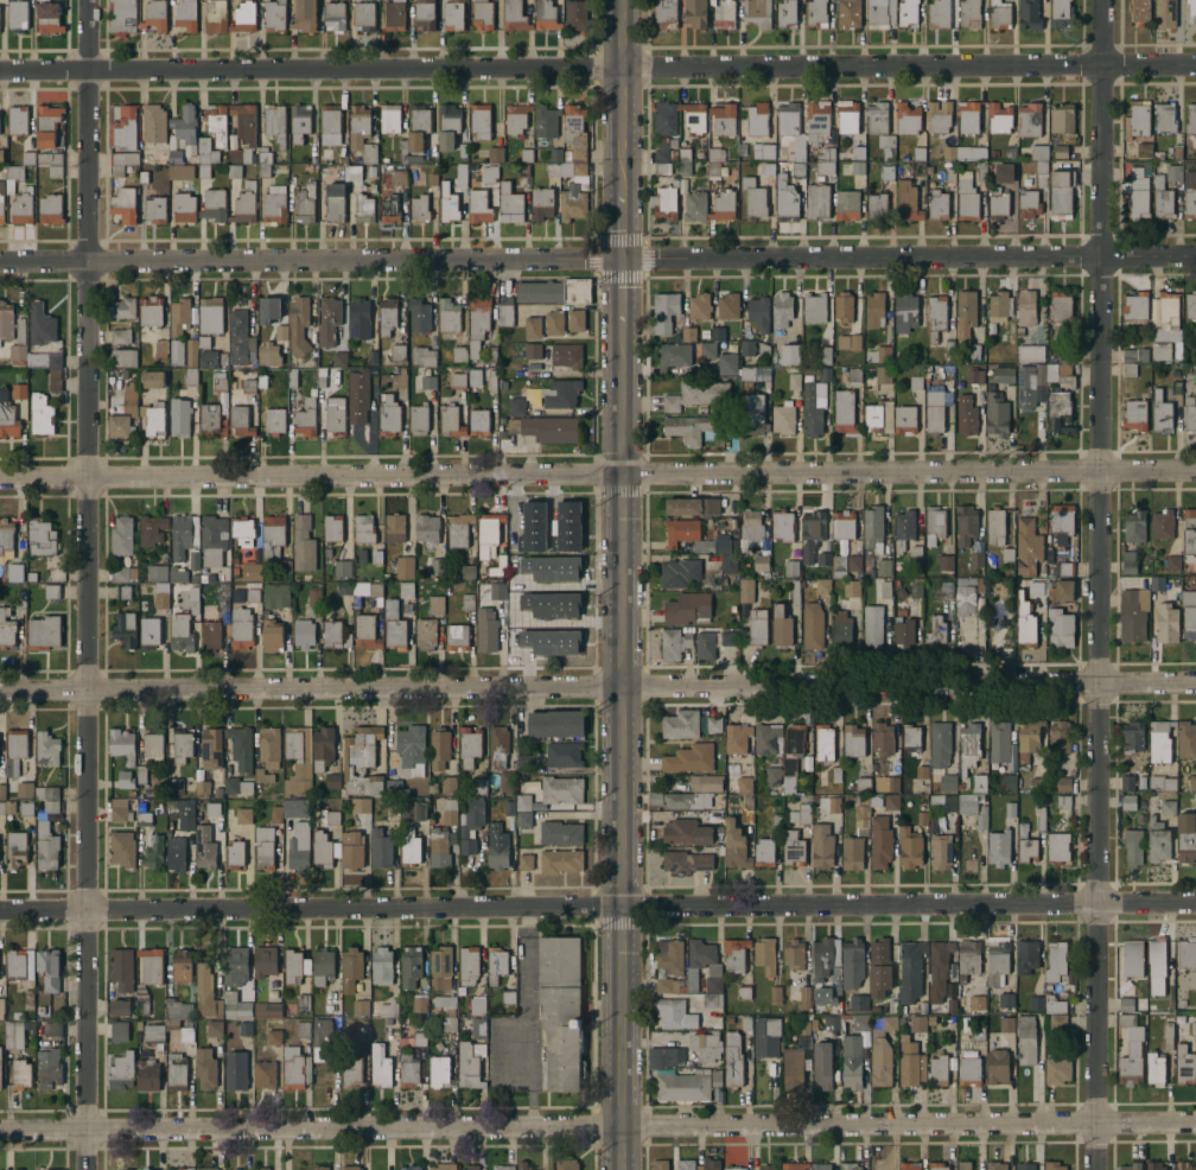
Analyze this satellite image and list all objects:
building: (479, 0)
building: (1191, 11)
building: (1139, 12)
building: (758, 13)
building: (815, 13)
building: (880, 13)
building: (908, 13)
building: (1061, 13)
building: (666, 14)
building: (695, 14)
building: (785, 14)
building: (847, 14)
building: (939, 14)
building: (968, 14)
building: (1164, 14)
building: (185, 15)
building: (395, 15)
building: (425, 15)
building: (453, 15)
building: (483, 15)
building: (546, 15)
building: (724, 15)
building: (999, 15)
building: (1029, 15)
building: (17, 17)
building: (154, 17)
building: (215, 17)
building: (274, 17)
building: (305, 17)
building: (335, 17)
building: (364, 17)
building: (514, 17)
building: (575, 17)
building: (122, 18)
building: (49, 19)
building: (244, 19)
road: (597, 68)
building: (939, 116)
building: (694, 117)
building: (846, 117)
building: (516, 119)
building: (877, 119)
building: (967, 119)
building: (330, 120)
building: (360, 120)
building: (390, 120)
building: (757, 120)
building: (906, 120)
building: (998, 120)
building: (1061, 120)
building: (1165, 120)
building: (18, 121)
building: (723, 121)
building: (1029, 121)
building: (1137, 121)
building: (1191, 121)
building: (481, 122)
building: (546, 122)
building: (244, 123)
building: (299, 123)
building: (816, 123)
building: (216, 125)
building: (275, 125)
building: (47, 126)
building: (122, 127)
building: (418, 127)
building: (448, 127)
building: (663, 129)
building: (789, 131)
building: (183, 134)
building: (574, 135)
building: (153, 136)
building: (231, 140)
building: (203, 146)
building: (403, 147)
building: (886, 147)
building: (857, 148)
building: (1187, 148)
building: (463, 151)
building: (742, 151)
building: (763, 152)
building: (777, 152)
building: (1144, 152)
building: (1175, 152)
building: (369, 153)
building: (1010, 153)
building: (1038, 153)
building: (1060, 153)
building: (495, 154)
building: (918, 154)
building: (949, 154)
building: (971, 154)
building: (265, 155)
building: (526, 155)
building: (556, 155)
building: (685, 155)
building: (714, 155)
building: (826, 155)
building: (993, 155)
building: (1157, 155)
building: (209, 157)
building: (240, 157)
building: (673, 157)
building: (838, 157)
building: (930, 157)
building: (27, 159)
building: (49, 159)
building: (125, 159)
building: (256, 161)
building: (826, 167)
building: (1041, 167)
building: (573, 168)
building: (685, 168)
building: (857, 168)
building: (917, 168)
building: (492, 170)
building: (523, 170)
building: (553, 170)
building: (662, 170)
building: (763, 170)
building: (116, 171)
building: (713, 171)
building: (55, 172)
building: (182, 172)
building: (204, 172)
building: (235, 172)
building: (263, 172)
building: (797, 172)
building: (981, 172)
building: (1004, 173)
building: (354, 174)
building: (886, 174)
building: (1173, 174)
building: (462, 176)
building: (950, 177)
building: (13, 178)
building: (144, 178)
building: (397, 178)
building: (432, 179)
building: (292, 182)
building: (1158, 183)
building: (373, 187)
building: (1138, 192)
building: (1061, 196)
building: (1189, 196)
building: (966, 198)
building: (785, 199)
building: (753, 202)
building: (1, 203)
building: (335, 203)
building: (572, 203)
building: (816, 203)
building: (906, 203)
building: (246, 204)
building: (306, 204)
building: (448, 204)
building: (510, 204)
building: (542, 204)
building: (663, 204)
building: (997, 204)
building: (123, 205)
building: (846, 205)
building: (1028, 205)
building: (1163, 205)
building: (215, 206)
building: (274, 206)
building: (479, 206)
building: (694, 206)
building: (936, 206)
building: (23, 208)
building: (723, 208)
building: (876, 208)
building: (184, 209)
building: (364, 209)
building: (50, 210)
building: (154, 210)
building: (389, 210)
building: (419, 210)
road: (597, 259)
traffic signals: (624, 259)
building: (555, 292)
building: (505, 299)
building: (699, 307)
building: (727, 307)
building: (842, 307)
building: (998, 307)
building: (1135, 307)
building: (1190, 307)
building: (123, 309)
building: (966, 309)
building: (268, 310)
building: (814, 310)
building: (1025, 310)
building: (781, 311)
building: (874, 311)
building: (1061, 311)
building: (1169, 311)
building: (151, 312)
building: (664, 312)
building: (758, 313)
building: (905, 313)
building: (210, 316)
building: (419, 316)
building: (179, 317)
building: (387, 317)
building: (505, 317)
building: (936, 317)
building: (358, 319)
building: (448, 319)
building: (329, 322)
building: (577, 322)
building: (478, 323)
building: (555, 323)
building: (11, 325)
building: (40, 325)
building: (298, 326)
building: (533, 329)
building: (1019, 332)
building: (688, 335)
building: (718, 335)
building: (120, 337)
building: (281, 337)
building: (240, 339)
building: (203, 342)
building: (855, 343)
building: (1035, 345)
building: (160, 349)
building: (747, 349)
building: (949, 349)
building: (707, 350)
building: (533, 351)
building: (762, 351)
building: (1160, 351)
building: (176, 352)
building: (191, 352)
building: (969, 352)
building: (397, 354)
building: (1029, 354)
building: (18, 355)
building: (268, 355)
building: (459, 355)
building: (492, 355)
building: (823, 355)
building: (567, 356)
building: (673, 356)
building: (789, 356)
building: (879, 356)
building: (1065, 356)
building: (1135, 356)
building: (424, 357)
building: (123, 358)
building: (208, 360)
building: (222, 360)
building: (339, 360)
building: (373, 360)
building: (44, 361)
building: (726, 365)
building: (1187, 369)
building: (925, 370)
building: (1128, 370)
building: (322, 373)
building: (373, 373)
building: (746, 374)
building: (125, 375)
building: (762, 375)
building: (825, 375)
building: (853, 376)
building: (883, 376)
building: (1001, 376)
building: (1058, 376)
building: (191, 377)
building: (292, 379)
building: (975, 379)
building: (1029, 379)
building: (152, 380)
building: (454, 380)
building: (794, 380)
building: (475, 381)
building: (492, 381)
building: (262, 382)
building: (320, 382)
building: (402, 382)
building: (428, 382)
building: (220, 383)
building: (915, 384)
building: (55, 386)
building: (248, 387)
building: (746, 387)
building: (1176, 389)
building: (19, 393)
building: (561, 394)
building: (857, 394)
building: (696, 395)
building: (358, 396)
building: (129, 399)
building: (812, 406)
building: (517, 407)
building: (141, 412)
building: (934, 413)
building: (1058, 413)
building: (1160, 413)
building: (844, 414)
building: (388, 415)
building: (995, 415)
building: (42, 417)
building: (335, 417)
building: (753, 417)
building: (966, 417)
building: (1190, 417)
building: (7, 418)
building: (179, 418)
building: (1133, 418)
building: (305, 419)
building: (419, 419)
building: (878, 419)
building: (154, 420)
building: (783, 420)
building: (274, 421)
building: (451, 421)
building: (502, 421)
building: (904, 421)
building: (211, 422)
building: (240, 422)
building: (479, 422)
building: (729, 426)
building: (120, 427)
building: (543, 430)
building: (687, 430)
road: (598, 475)
building: (692, 507)
building: (1061, 523)
building: (842, 526)
building: (934, 526)
building: (965, 526)
building: (1163, 526)
building: (782, 527)
building: (994, 527)
building: (426, 528)
building: (1134, 528)
building: (332, 529)
building: (395, 529)
building: (152, 530)
building: (363, 530)
building: (459, 530)
building: (749, 530)
building: (872, 530)
building: (903, 530)
building: (243, 532)
building: (1189, 532)
building: (680, 533)
building: (184, 535)
building: (488, 535)
building: (810, 535)
building: (121, 538)
building: (42, 539)
building: (547, 539)
building: (6, 540)
building: (212, 540)
building: (274, 542)
building: (303, 546)
building: (721, 547)
building: (1026, 548)
building: (1007, 555)
building: (377, 558)
building: (823, 560)
building: (914, 560)
building: (195, 561)
building: (235, 561)
building: (975, 561)
building: (759, 564)
building: (853, 564)
building: (943, 564)
building: (1128, 564)
building: (1172, 564)
building: (727, 565)
building: (437, 566)
building: (838, 566)
building: (498, 567)
building: (883, 567)
building: (253, 568)
building: (342, 568)
building: (405, 568)
building: (1065, 568)
building: (790, 570)
building: (235, 572)
building: (15, 573)
building: (123, 573)
building: (467, 573)
building: (157, 574)
building: (178, 574)
building: (679, 574)
building: (1041, 574)
building: (389, 577)
building: (195, 578)
building: (203, 579)
building: (916, 580)
road: (84, 585)
road: (621, 585)
building: (896, 585)
road: (1098, 585)
building: (1157, 585)
building: (1045, 586)
building: (822, 587)
building: (179, 589)
building: (851, 589)
building: (344, 590)
building: (884, 590)
building: (1035, 590)
building: (375, 591)
building: (406, 591)
building: (497, 591)
building: (745, 591)
building: (944, 591)
building: (51, 592)
building: (916, 592)
building: (1062, 592)
building: (123, 593)
building: (901, 593)
building: (253, 596)
building: (794, 596)
building: (966, 596)
building: (161, 597)
building: (275, 597)
building: (314, 597)
building: (193, 598)
building: (1188, 598)
building: (21, 600)
building: (467, 603)
building: (224, 604)
building: (548, 604)
building: (437, 606)
building: (390, 609)
building: (687, 610)
building: (171, 612)
building: (899, 612)
building: (1133, 615)
building: (1024, 623)
building: (1166, 624)
building: (1189, 624)
building: (812, 628)
building: (872, 628)
building: (757, 629)
building: (781, 629)
building: (6, 630)
building: (125, 630)
building: (241, 630)
building: (965, 630)
building: (1061, 630)
building: (486, 631)
building: (841, 631)
building: (149, 632)
building: (367, 632)
building: (936, 632)
building: (44, 634)
building: (304, 634)
building: (903, 634)
building: (994, 634)
building: (182, 635)
building: (332, 635)
building: (395, 635)
building: (425, 635)
building: (211, 636)
building: (273, 637)
building: (457, 638)
building: (726, 640)
building: (549, 641)
building: (346, 642)
building: (673, 646)
building: (704, 647)
road: (598, 687)
building: (556, 724)
building: (680, 725)
building: (713, 725)
building: (1132, 737)
building: (765, 738)
building: (910, 738)
building: (1060, 738)
building: (737, 739)
building: (882, 739)
building: (1028, 740)
building: (1187, 740)
building: (852, 742)
building: (1160, 742)
building: (999, 743)
building: (823, 744)
building: (940, 745)
building: (122, 746)
building: (153, 746)
building: (182, 746)
building: (470, 746)
building: (968, 746)
building: (269, 748)
building: (498, 748)
building: (211, 749)
building: (241, 749)
building: (323, 749)
building: (439, 749)
building: (793, 749)
building: (46, 750)
building: (15, 751)
building: (412, 751)
building: (564, 755)
building: (689, 759)
building: (298, 762)
building: (361, 763)
building: (524, 763)
building: (141, 775)
building: (922, 775)
building: (262, 776)
building: (772, 776)
building: (835, 776)
building: (125, 781)
building: (332, 782)
building: (505, 782)
building: (705, 783)
building: (979, 783)
building: (1126, 783)
building: (1162, 783)
building: (1192, 783)
building: (448, 784)
building: (948, 784)
building: (1009, 784)
building: (236, 786)
building: (744, 786)
building: (863, 786)
building: (892, 786)
building: (1036, 786)
building: (1063, 786)
building: (174, 787)
building: (479, 787)
building: (202, 789)
building: (394, 789)
building: (25, 790)
building: (562, 790)
building: (2, 793)
building: (47, 794)
building: (131, 794)
building: (275, 795)
building: (655, 799)
building: (814, 800)
building: (1194, 800)
building: (685, 801)
building: (971, 801)
building: (523, 802)
building: (876, 802)
building: (891, 802)
building: (1062, 803)
building: (1128, 803)
building: (949, 805)
building: (360, 806)
building: (828, 806)
building: (1141, 806)
building: (47, 807)
building: (11, 808)
building: (1168, 808)
building: (1, 809)
building: (212, 809)
building: (26, 810)
building: (746, 810)
building: (1010, 810)
building: (120, 812)
building: (508, 812)
building: (450, 813)
building: (1039, 813)
building: (420, 814)
building: (800, 814)
building: (861, 814)
building: (275, 815)
building: (243, 816)
building: (323, 816)
building: (332, 819)
building: (922, 819)
building: (981, 819)
building: (144, 820)
building: (186, 820)
building: (524, 820)
building: (776, 821)
building: (1153, 824)
building: (471, 825)
building: (685, 833)
building: (298, 834)
building: (561, 834)
building: (1187, 839)
building: (879, 842)
building: (1026, 846)
building: (1158, 846)
building: (46, 847)
building: (440, 847)
building: (734, 847)
building: (204, 848)
building: (265, 848)
building: (409, 848)
building: (822, 848)
building: (910, 848)
building: (999, 848)
building: (1057, 848)
building: (1132, 848)
building: (122, 850)
building: (380, 850)
building: (793, 850)
building: (15, 851)
building: (322, 851)
building: (352, 851)
building: (719, 852)
building: (764, 853)
building: (940, 853)
building: (153, 854)
building: (176, 854)
building: (852, 854)
building: (235, 856)
building: (497, 857)
building: (561, 861)
building: (526, 863)
building: (685, 863)
road: (598, 909)
building: (793, 954)
building: (1188, 954)
building: (734, 955)
building: (764, 956)
building: (1025, 958)
building: (1157, 958)
building: (670, 959)
building: (823, 959)
building: (1133, 960)
building: (967, 961)
building: (265, 962)
building: (496, 964)
building: (1056, 964)
building: (20, 965)
building: (382, 965)
building: (851, 965)
building: (997, 965)
building: (151, 966)
building: (182, 966)
building: (323, 966)
building: (469, 966)
building: (695, 966)
building: (292, 968)
building: (409, 968)
building: (440, 968)
building: (49, 969)
building: (121, 969)
building: (351, 969)
building: (879, 969)
building: (939, 969)
building: (910, 971)
building: (235, 983)
building: (663, 986)
building: (681, 990)
building: (835, 992)
building: (743, 993)
building: (141, 994)
building: (205, 994)
building: (508, 997)
building: (775, 997)
building: (804, 998)
building: (28, 1000)
building: (1005, 1002)
building: (304, 1003)
building: (711, 1003)
building: (1182, 1003)
building: (420, 1004)
building: (858, 1004)
building: (445, 1005)
building: (976, 1005)
building: (1036, 1005)
building: (1054, 1005)
building: (1131, 1005)
building: (388, 1006)
building: (477, 1007)
building: (891, 1007)
building: (922, 1007)
building: (950, 1007)
building: (1, 1009)
building: (120, 1009)
building: (361, 1009)
building: (874, 1009)
building: (142, 1010)
building: (178, 1010)
building: (902, 1010)
building: (43, 1011)
building: (268, 1011)
building: (561, 1012)
building: (674, 1015)
building: (17, 1016)
road: (529, 1018)
building: (950, 1018)
building: (930, 1019)
building: (729, 1020)
building: (784, 1020)
building: (1127, 1020)
building: (387, 1022)
building: (901, 1023)
building: (1057, 1023)
building: (448, 1024)
building: (747, 1024)
building: (831, 1024)
building: (917, 1024)
building: (171, 1025)
building: (1006, 1025)
building: (139, 1026)
building: (478, 1028)
building: (1192, 1029)
building: (52, 1030)
building: (214, 1030)
building: (244, 1030)
building: (303, 1030)
building: (119, 1032)
building: (186, 1034)
building: (362, 1034)
building: (14, 1036)
building: (154, 1036)
building: (976, 1036)
building: (1168, 1036)
building: (274, 1038)
building: (322, 1038)
building: (765, 1038)
building: (419, 1041)
building: (1025, 1041)
building: (439, 1047)
building: (705, 1047)
building: (852, 1048)
building: (880, 1054)
building: (795, 1057)
building: (664, 1058)
building: (732, 1061)
building: (910, 1063)
building: (470, 1064)
building: (822, 1066)
building: (1184, 1066)
building: (995, 1067)
building: (0, 1068)
building: (380, 1068)
building: (49, 1069)
building: (205, 1069)
building: (121, 1072)
building: (235, 1072)
building: (351, 1072)
building: (408, 1072)
building: (937, 1072)
building: (1056, 1072)
building: (1131, 1072)
building: (1156, 1072)
building: (297, 1073)
building: (968, 1073)
building: (177, 1074)
building: (440, 1074)
building: (21, 1075)
building: (265, 1075)
building: (147, 1076)
building: (715, 1079)
building: (681, 1086)
road: (598, 1128)
building: (567, 1164)
building: (659, 1165)
building: (685, 1165)
building: (710, 1165)
building: (445, 1166)
building: (523, 1166)
building: (794, 1166)
building: (820, 1166)
building: (848, 1166)
building: (909, 1166)
building: (936, 1166)
building: (963, 1166)
building: (994, 1166)
building: (1025, 1166)
building: (1052, 1166)
building: (1133, 1166)
building: (1157, 1166)
building: (1183, 1166)
building: (350, 1168)
building: (411, 1168)
building: (473, 1168)
building: (504, 1168)
building: (766, 1168)
building: (142, 1169)
building: (185, 1169)
building: (203, 1169)
building: (234, 1169)
building: (263, 1169)
building: (320, 1169)
building: (734, 1169)
building: (743, 1169)

